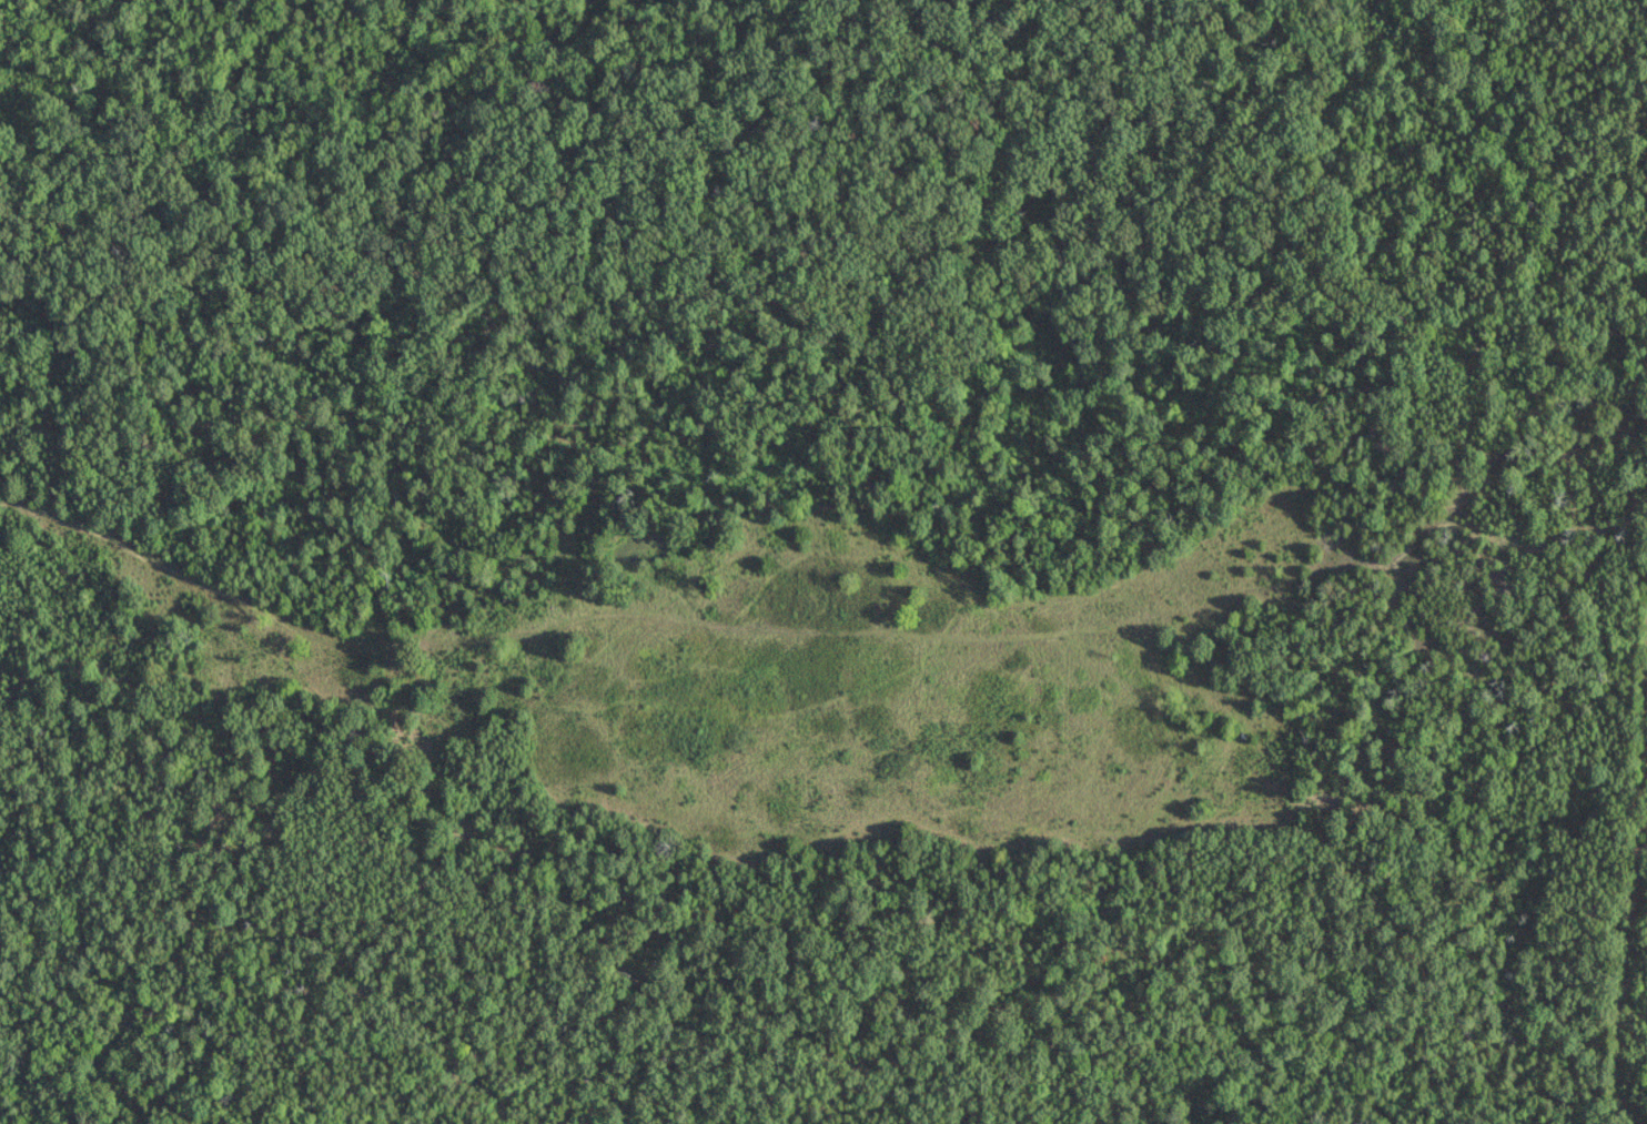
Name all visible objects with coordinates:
road: (1543, 317)

